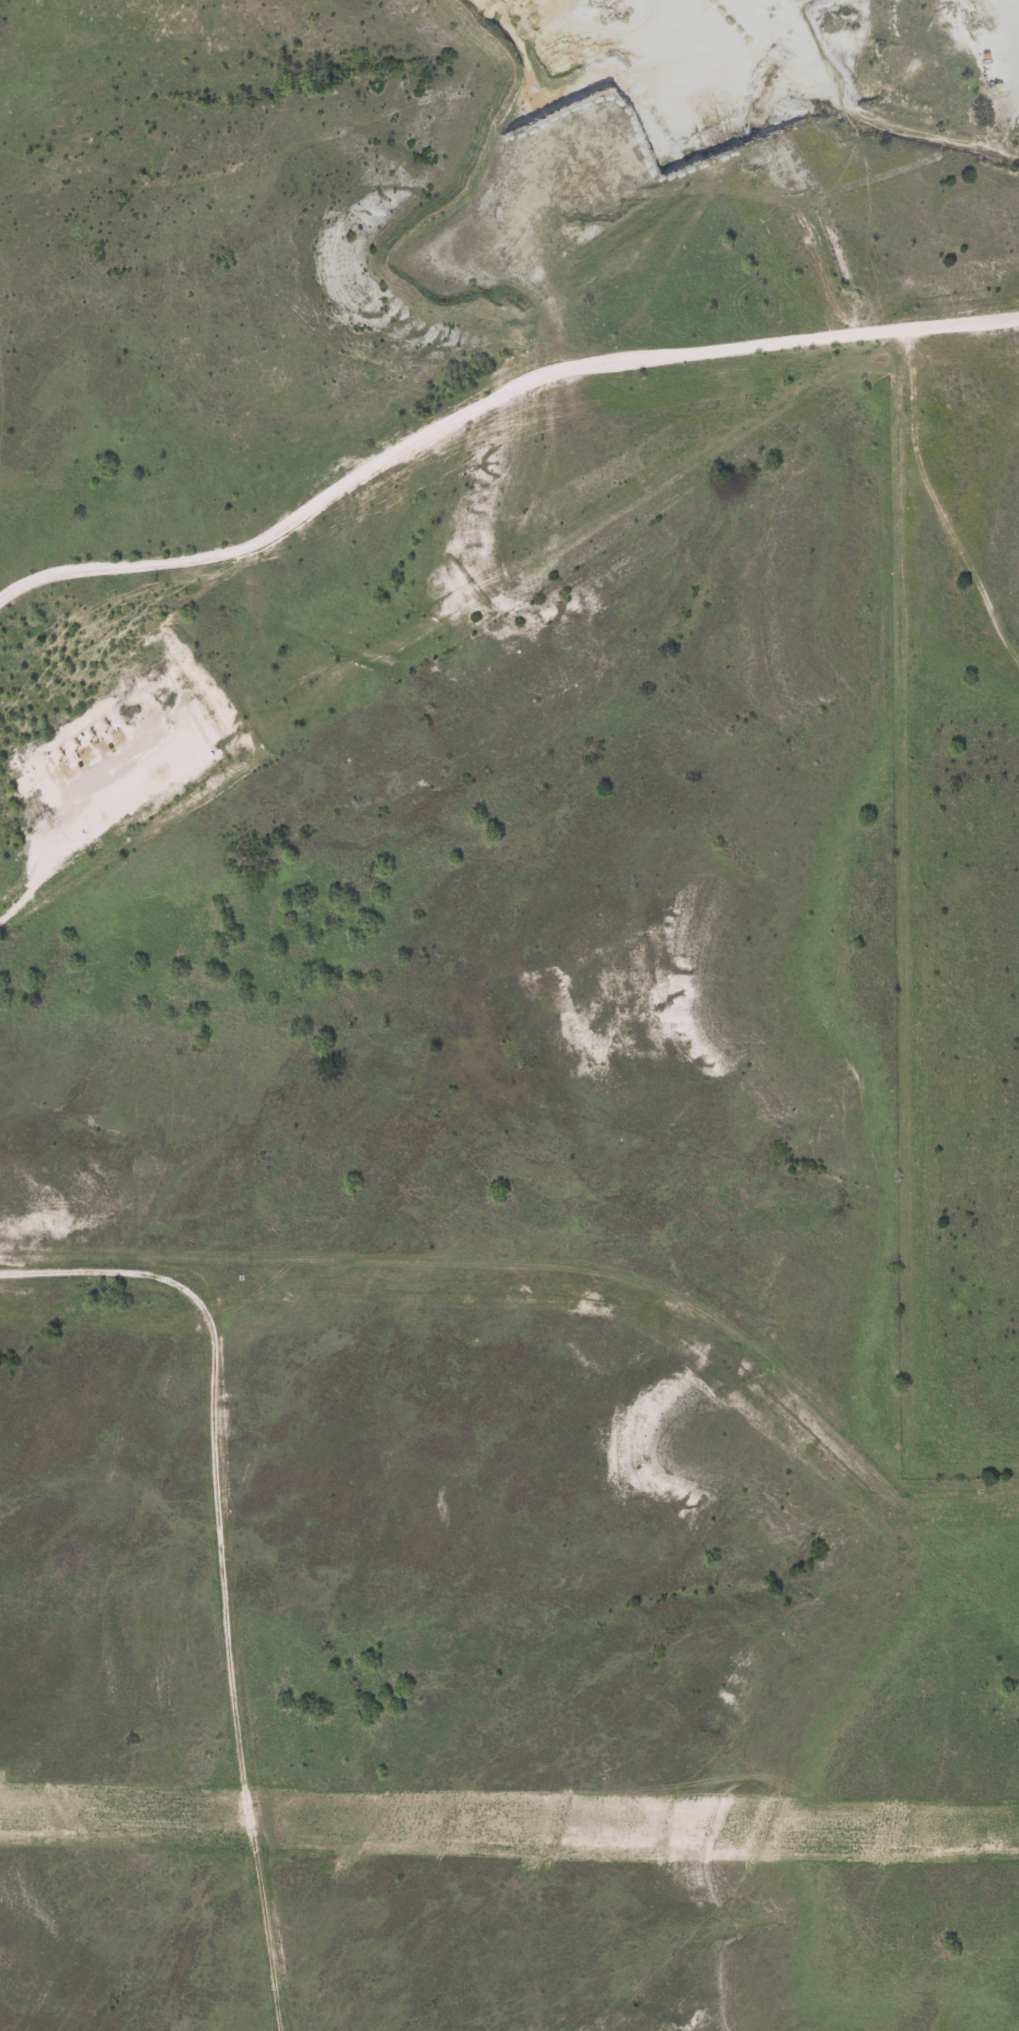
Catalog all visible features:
road: (489, 397)
road: (219, 1565)

